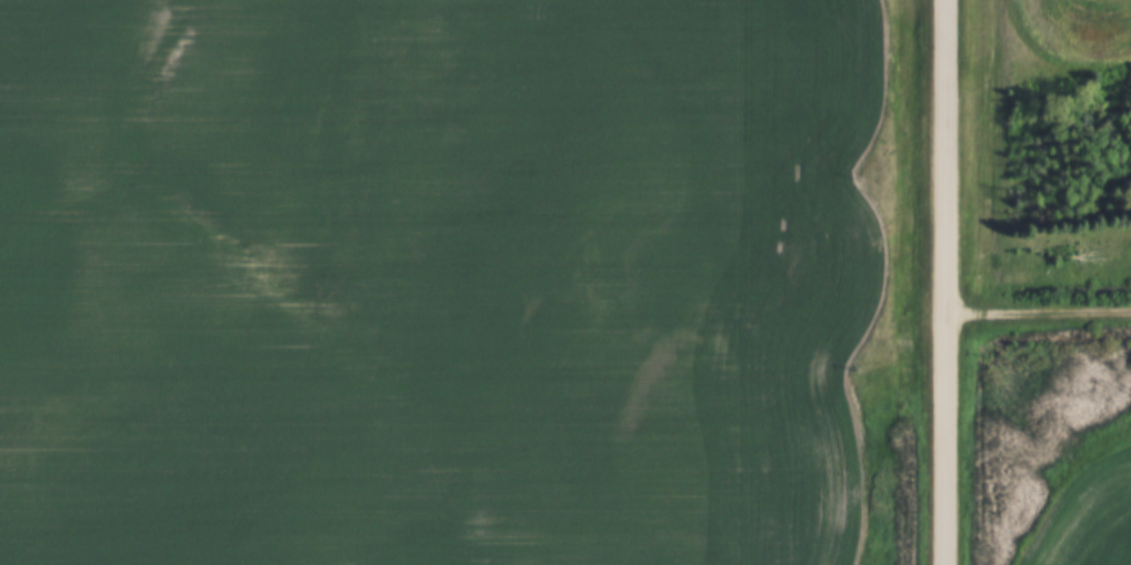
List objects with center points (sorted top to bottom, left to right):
road: (945, 282)
road: (1039, 310)

